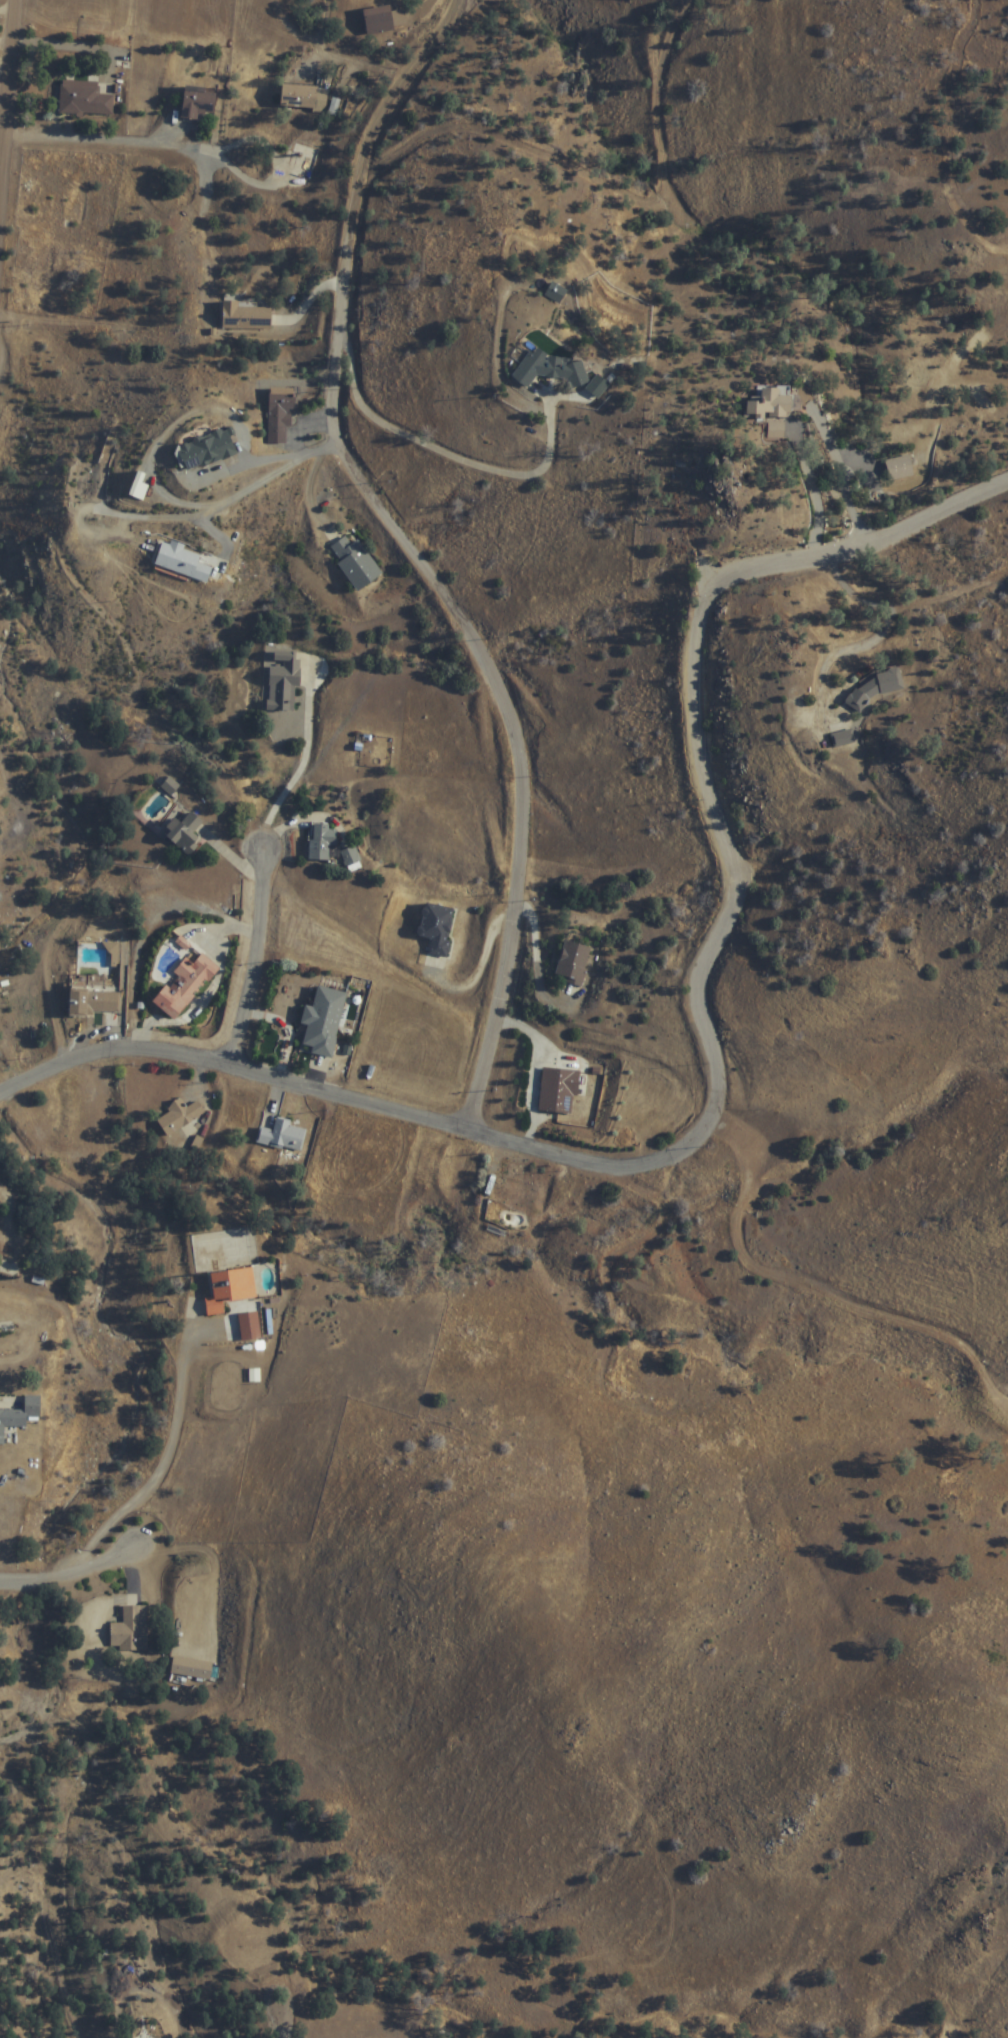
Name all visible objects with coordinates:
building: (378, 19)
building: (305, 97)
building: (84, 99)
building: (199, 102)
road: (13, 109)
road: (150, 145)
building: (48, 267)
building: (555, 292)
building: (245, 316)
road: (98, 365)
building: (549, 368)
building: (597, 386)
building: (772, 403)
building: (281, 413)
building: (777, 430)
building: (207, 449)
building: (899, 468)
building: (88, 475)
building: (181, 561)
building: (356, 563)
road: (446, 595)
building: (284, 681)
building: (843, 738)
building: (186, 834)
building: (322, 842)
building: (437, 928)
road: (260, 963)
building: (573, 964)
building: (185, 986)
building: (93, 1003)
building: (324, 1021)
road: (720, 1064)
building: (558, 1090)
building: (180, 1118)
building: (283, 1136)
building: (520, 1194)
building: (231, 1291)
building: (19, 1415)
road: (156, 1485)
road: (8, 1577)
road: (12, 1597)
building: (131, 1629)
building: (192, 1668)
road: (94, 1766)

